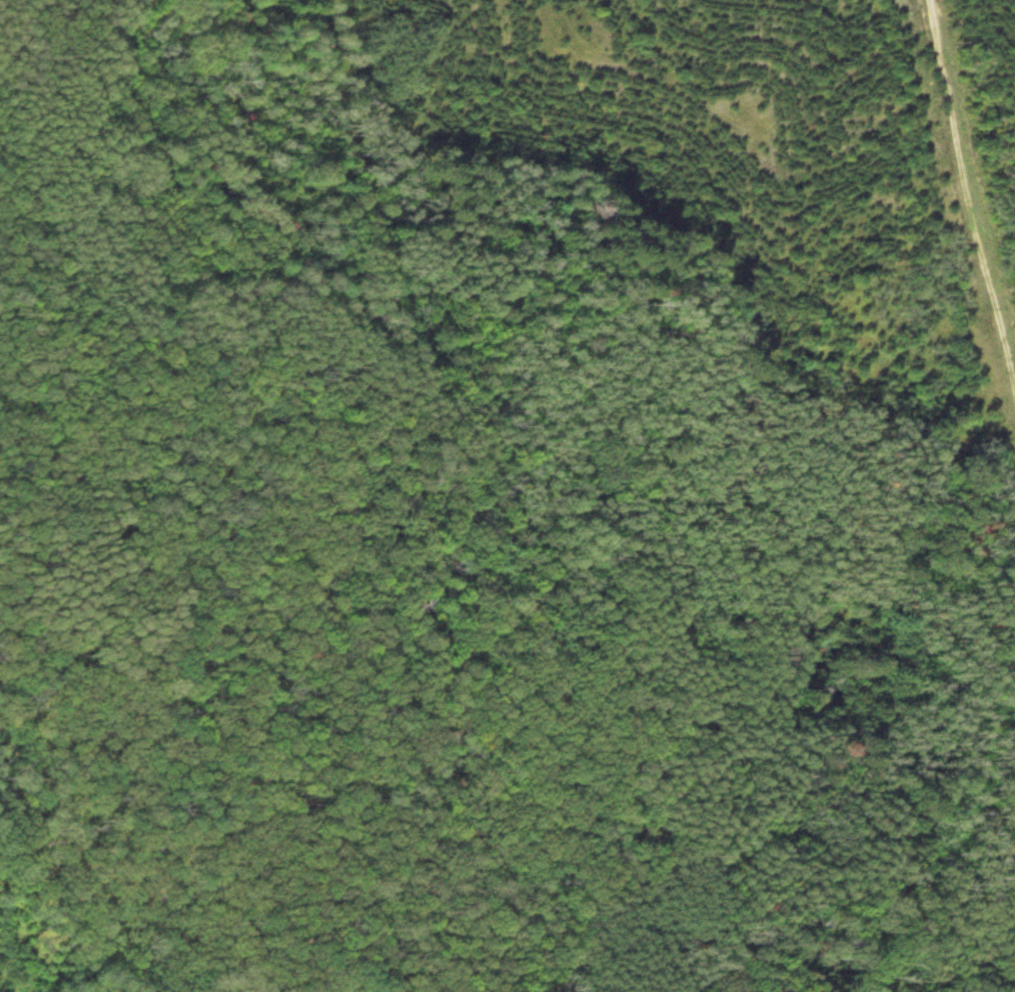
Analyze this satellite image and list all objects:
road: (971, 185)

